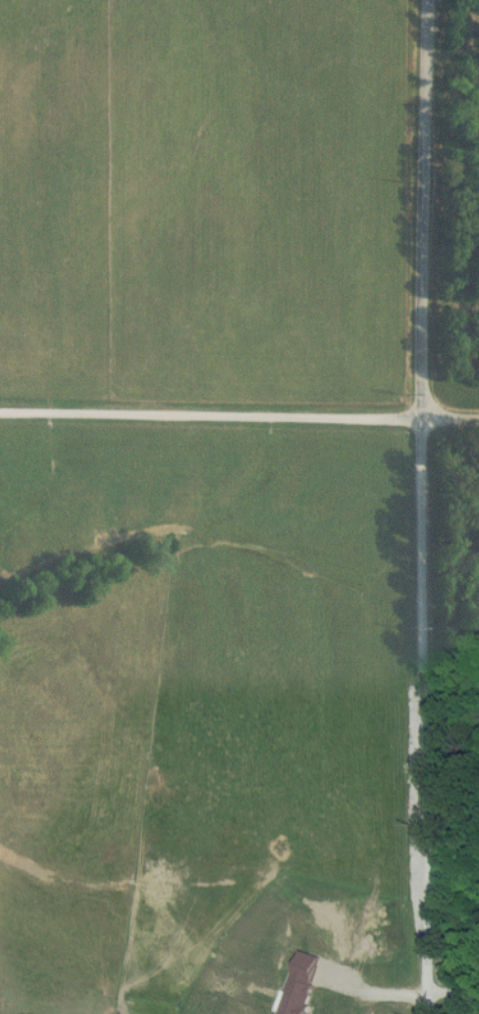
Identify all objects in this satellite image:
road: (239, 417)
road: (422, 506)
road: (374, 996)

